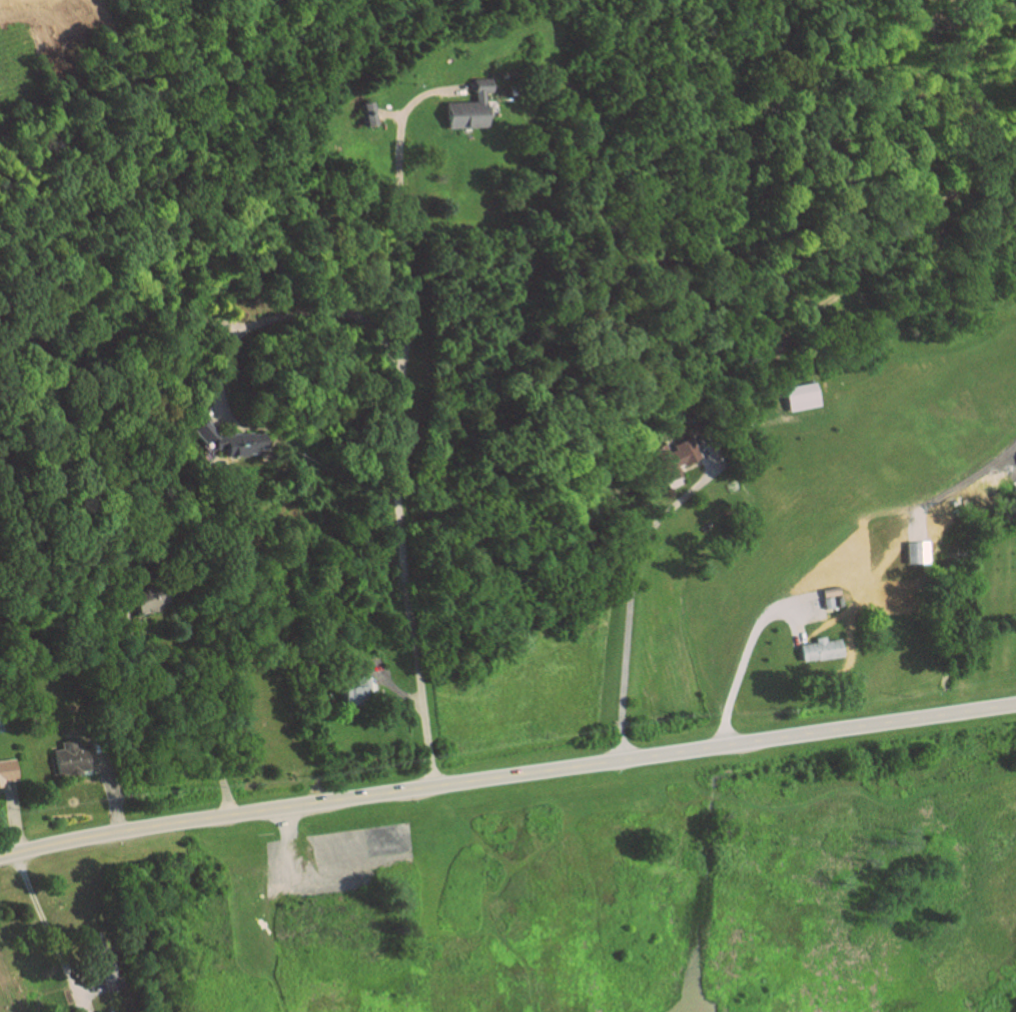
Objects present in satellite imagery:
road: (24, 105)
building: (465, 108)
building: (369, 113)
road: (400, 125)
road: (286, 316)
building: (799, 397)
building: (222, 440)
building: (672, 456)
road: (395, 484)
road: (630, 580)
building: (815, 650)
road: (743, 663)
building: (357, 690)
road: (167, 719)
building: (73, 759)
building: (8, 772)
road: (507, 776)
road: (33, 899)

